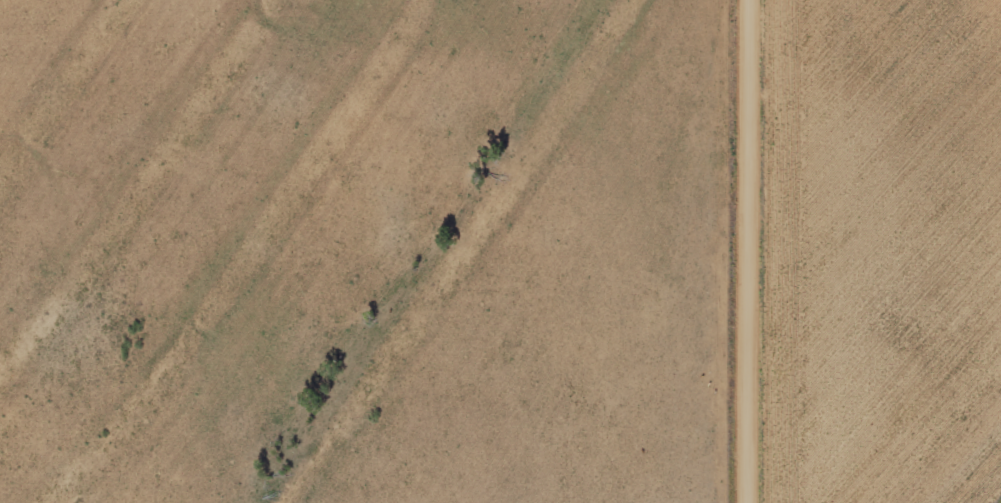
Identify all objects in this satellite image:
road: (755, 251)
railway: (990, 491)

